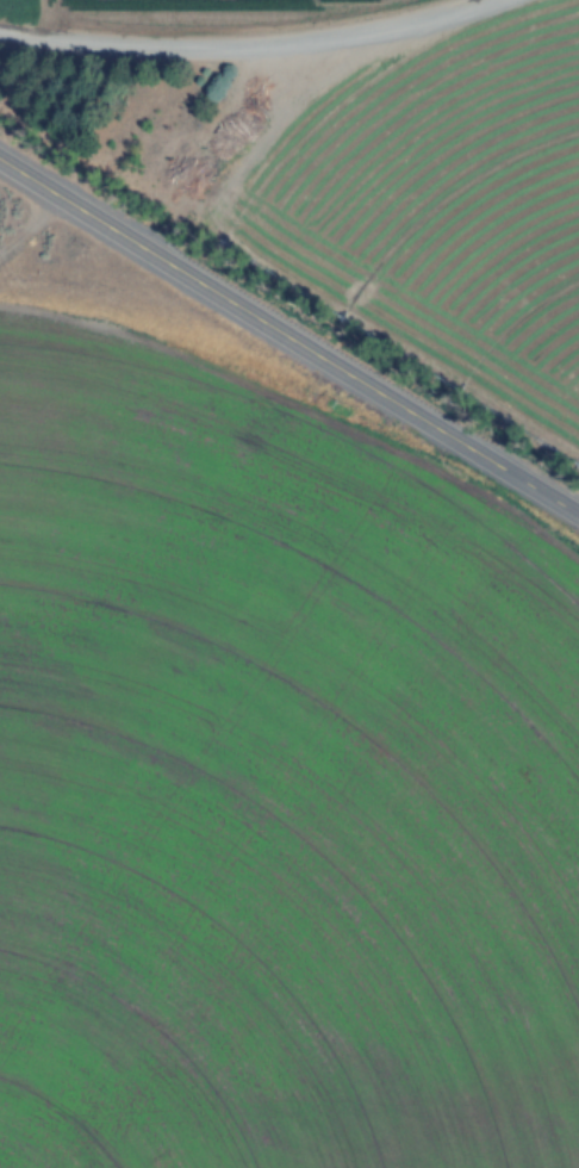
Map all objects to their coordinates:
crop: (70, 1)
road: (288, 346)

